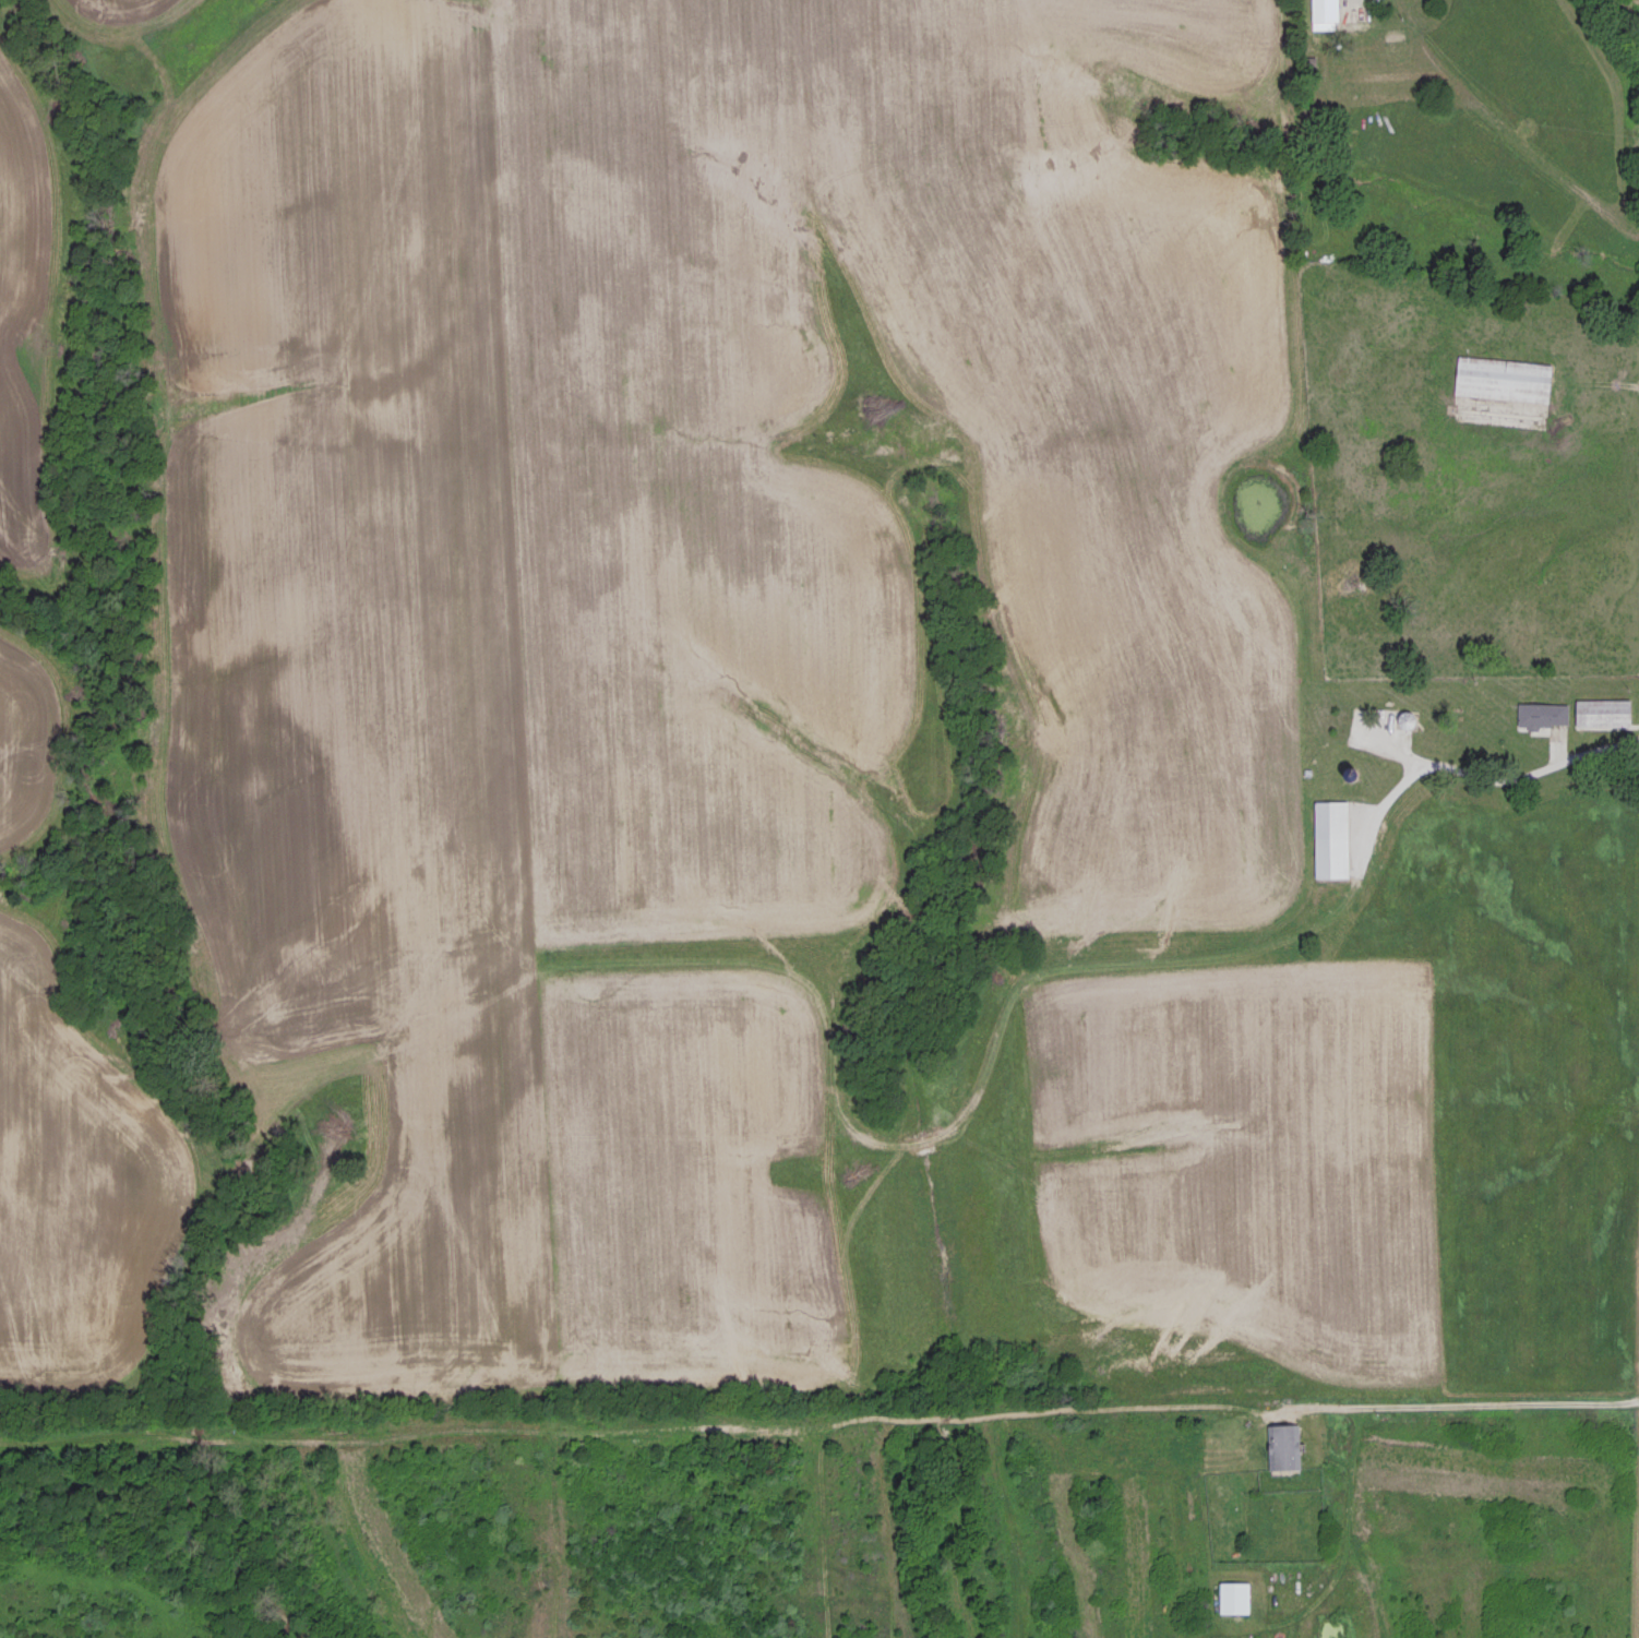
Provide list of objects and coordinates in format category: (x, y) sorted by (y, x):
building: (1340, 11)
building: (1505, 378)
building: (1605, 712)
building: (1544, 714)
building: (1407, 718)
road: (1495, 776)
building: (1333, 838)
road: (1461, 1403)
building: (1285, 1444)
building: (1235, 1494)
building: (1236, 1594)

